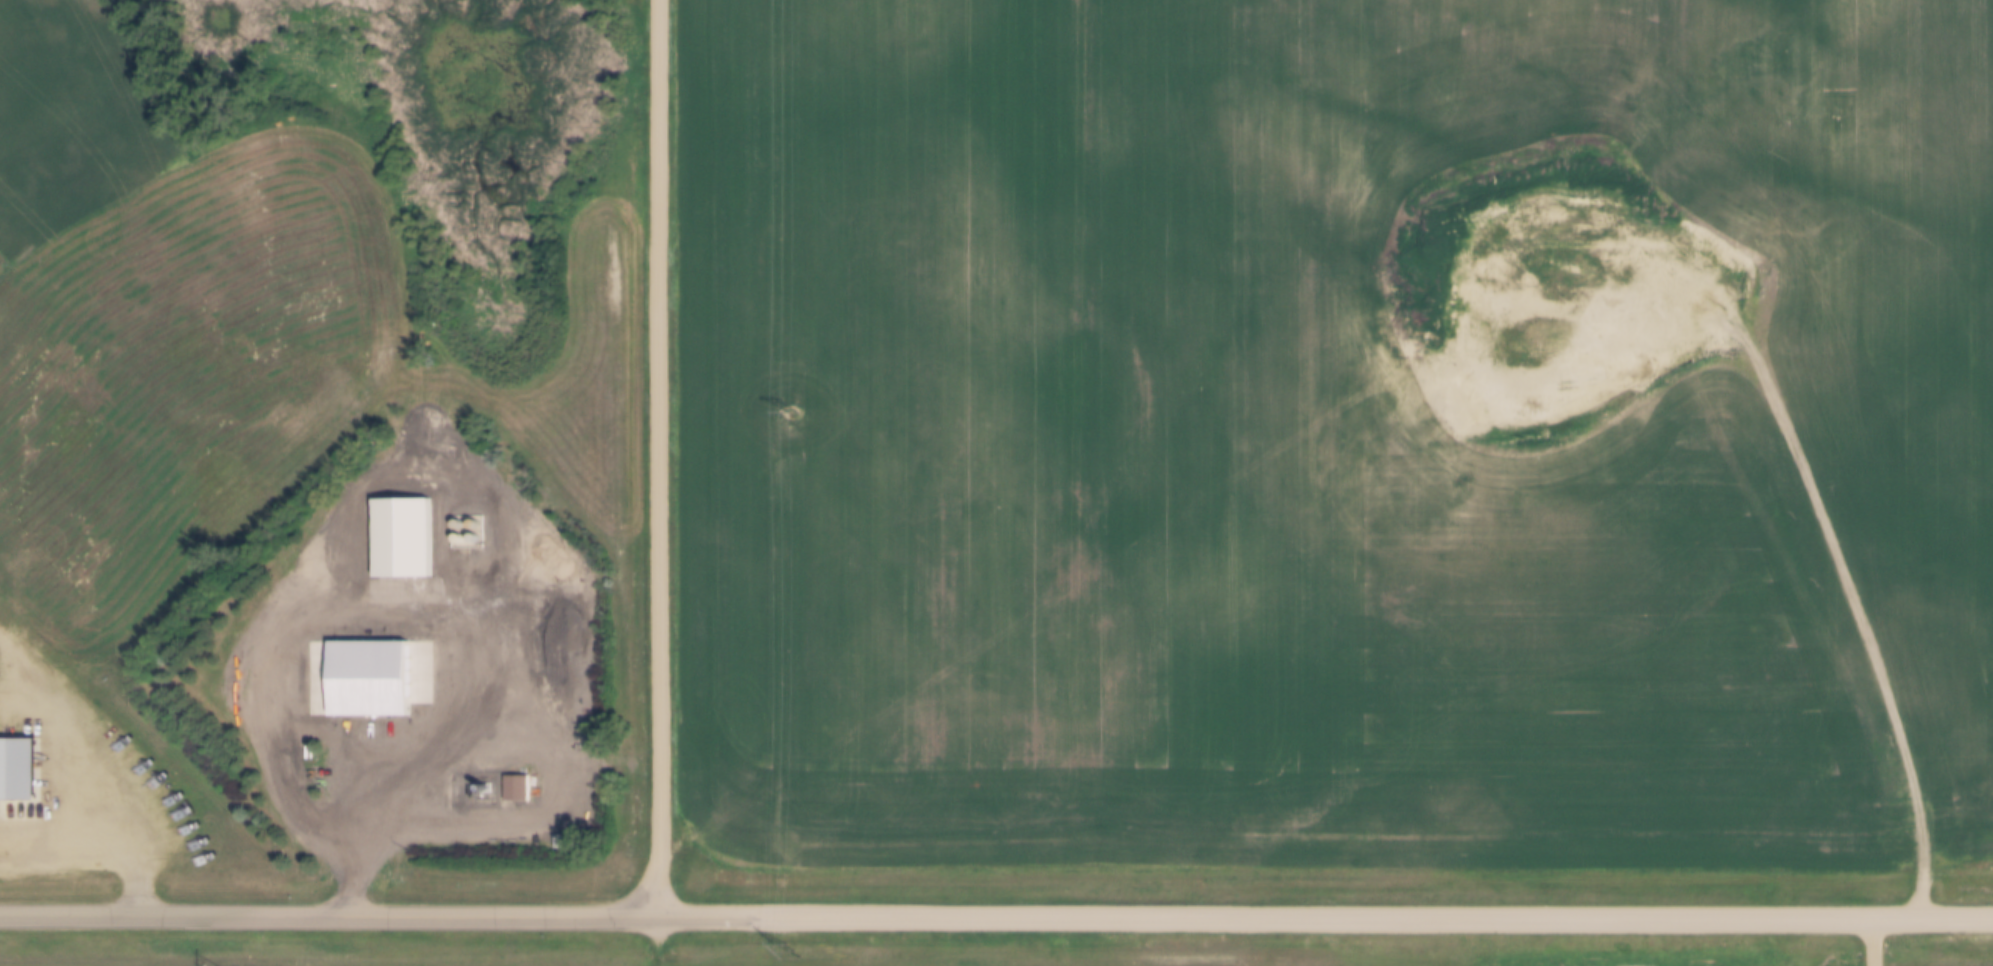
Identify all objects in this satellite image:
quarry: (1552, 295)
road: (652, 457)
storage tank: (455, 524)
storage tank: (470, 524)
building: (398, 538)
storage tank: (455, 538)
storage tank: (470, 538)
building: (363, 678)
building: (7, 771)
building: (347, 779)
building: (405, 784)
building: (415, 785)
building: (512, 788)
road: (377, 826)
road: (996, 915)

